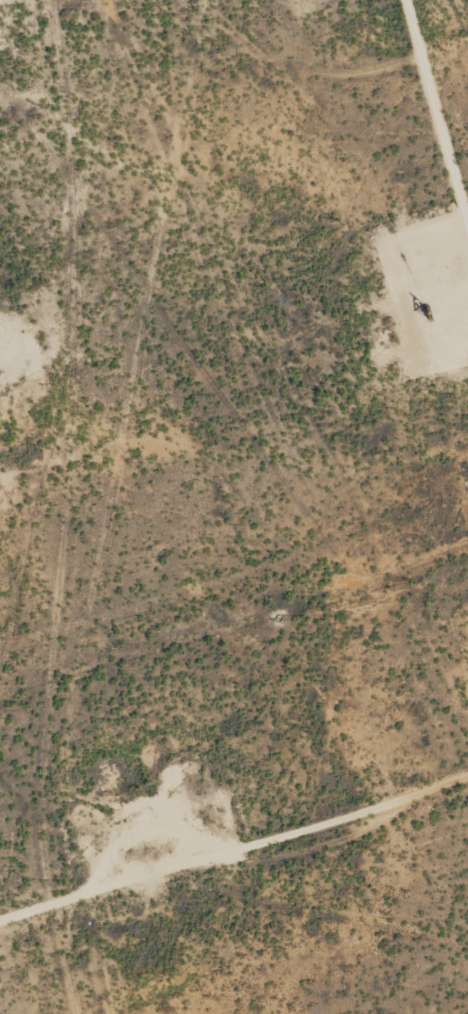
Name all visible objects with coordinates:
road: (436, 112)
road: (113, 893)

